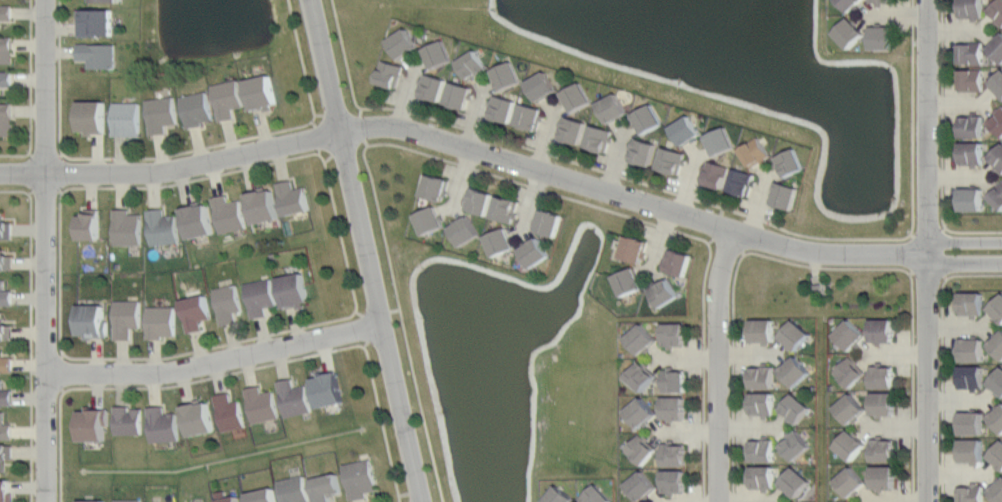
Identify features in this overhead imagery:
building: (882, 0)
building: (102, 1)
building: (849, 4)
building: (971, 9)
building: (997, 10)
building: (6, 12)
building: (95, 21)
building: (849, 32)
building: (882, 37)
building: (403, 43)
building: (997, 47)
building: (5, 49)
building: (971, 52)
building: (439, 53)
building: (98, 54)
road: (301, 57)
building: (472, 65)
road: (60, 72)
building: (389, 73)
road: (30, 74)
building: (508, 75)
building: (5, 78)
building: (970, 80)
building: (997, 84)
building: (543, 86)
building: (433, 87)
building: (261, 92)
building: (460, 95)
building: (578, 97)
building: (227, 98)
building: (196, 108)
building: (503, 108)
building: (612, 108)
building: (161, 114)
building: (91, 116)
building: (530, 116)
building: (6, 118)
building: (126, 118)
building: (647, 118)
building: (997, 122)
building: (972, 126)
building: (572, 129)
building: (686, 130)
building: (599, 137)
building: (720, 140)
road: (942, 142)
road: (187, 150)
building: (643, 150)
building: (756, 151)
building: (971, 152)
road: (17, 154)
building: (997, 157)
road: (503, 158)
building: (671, 160)
building: (790, 162)
building: (715, 173)
building: (741, 182)
building: (436, 187)
road: (17, 190)
building: (785, 195)
building: (997, 196)
building: (292, 198)
road: (693, 198)
building: (971, 199)
building: (480, 201)
building: (263, 206)
building: (505, 208)
building: (227, 213)
building: (429, 219)
building: (198, 221)
building: (548, 222)
building: (89, 224)
road: (663, 226)
building: (127, 227)
building: (163, 227)
building: (6, 230)
building: (465, 230)
building: (500, 241)
building: (633, 248)
road: (47, 251)
road: (365, 251)
road: (929, 251)
building: (535, 252)
building: (6, 260)
building: (677, 262)
road: (815, 265)
building: (628, 281)
power substation: (817, 287)
building: (293, 289)
building: (663, 292)
building: (5, 294)
building: (260, 296)
building: (971, 303)
building: (227, 304)
building: (996, 309)
building: (195, 312)
building: (127, 318)
road: (332, 319)
building: (160, 320)
building: (91, 321)
road: (403, 321)
building: (762, 330)
building: (882, 330)
building: (6, 331)
building: (672, 334)
building: (850, 334)
building: (794, 335)
building: (640, 339)
building: (997, 345)
building: (972, 349)
road: (31, 350)
road: (216, 361)
road: (942, 361)
building: (6, 363)
road: (719, 364)
road: (238, 370)
building: (796, 371)
building: (850, 371)
building: (641, 374)
building: (882, 375)
building: (762, 376)
building: (972, 377)
building: (672, 379)
building: (997, 383)
building: (327, 387)
building: (5, 396)
building: (294, 397)
building: (762, 403)
building: (882, 403)
building: (261, 404)
building: (673, 407)
building: (795, 408)
building: (851, 409)
building: (229, 411)
building: (641, 412)
building: (127, 418)
building: (201, 418)
building: (997, 418)
building: (971, 422)
building: (93, 423)
building: (163, 424)
building: (5, 426)
building: (796, 444)
building: (850, 444)
building: (641, 448)
building: (883, 448)
building: (762, 449)
building: (972, 450)
building: (673, 452)
building: (5, 454)
building: (997, 455)
building: (763, 476)
building: (883, 477)
building: (360, 479)
building: (674, 481)
building: (850, 481)
building: (795, 482)
building: (327, 486)
building: (641, 486)
building: (292, 489)
building: (5, 490)
building: (996, 491)
building: (971, 492)
building: (260, 494)
building: (560, 495)
building: (596, 495)
building: (226, 497)
building: (127, 499)
building: (92, 501)

